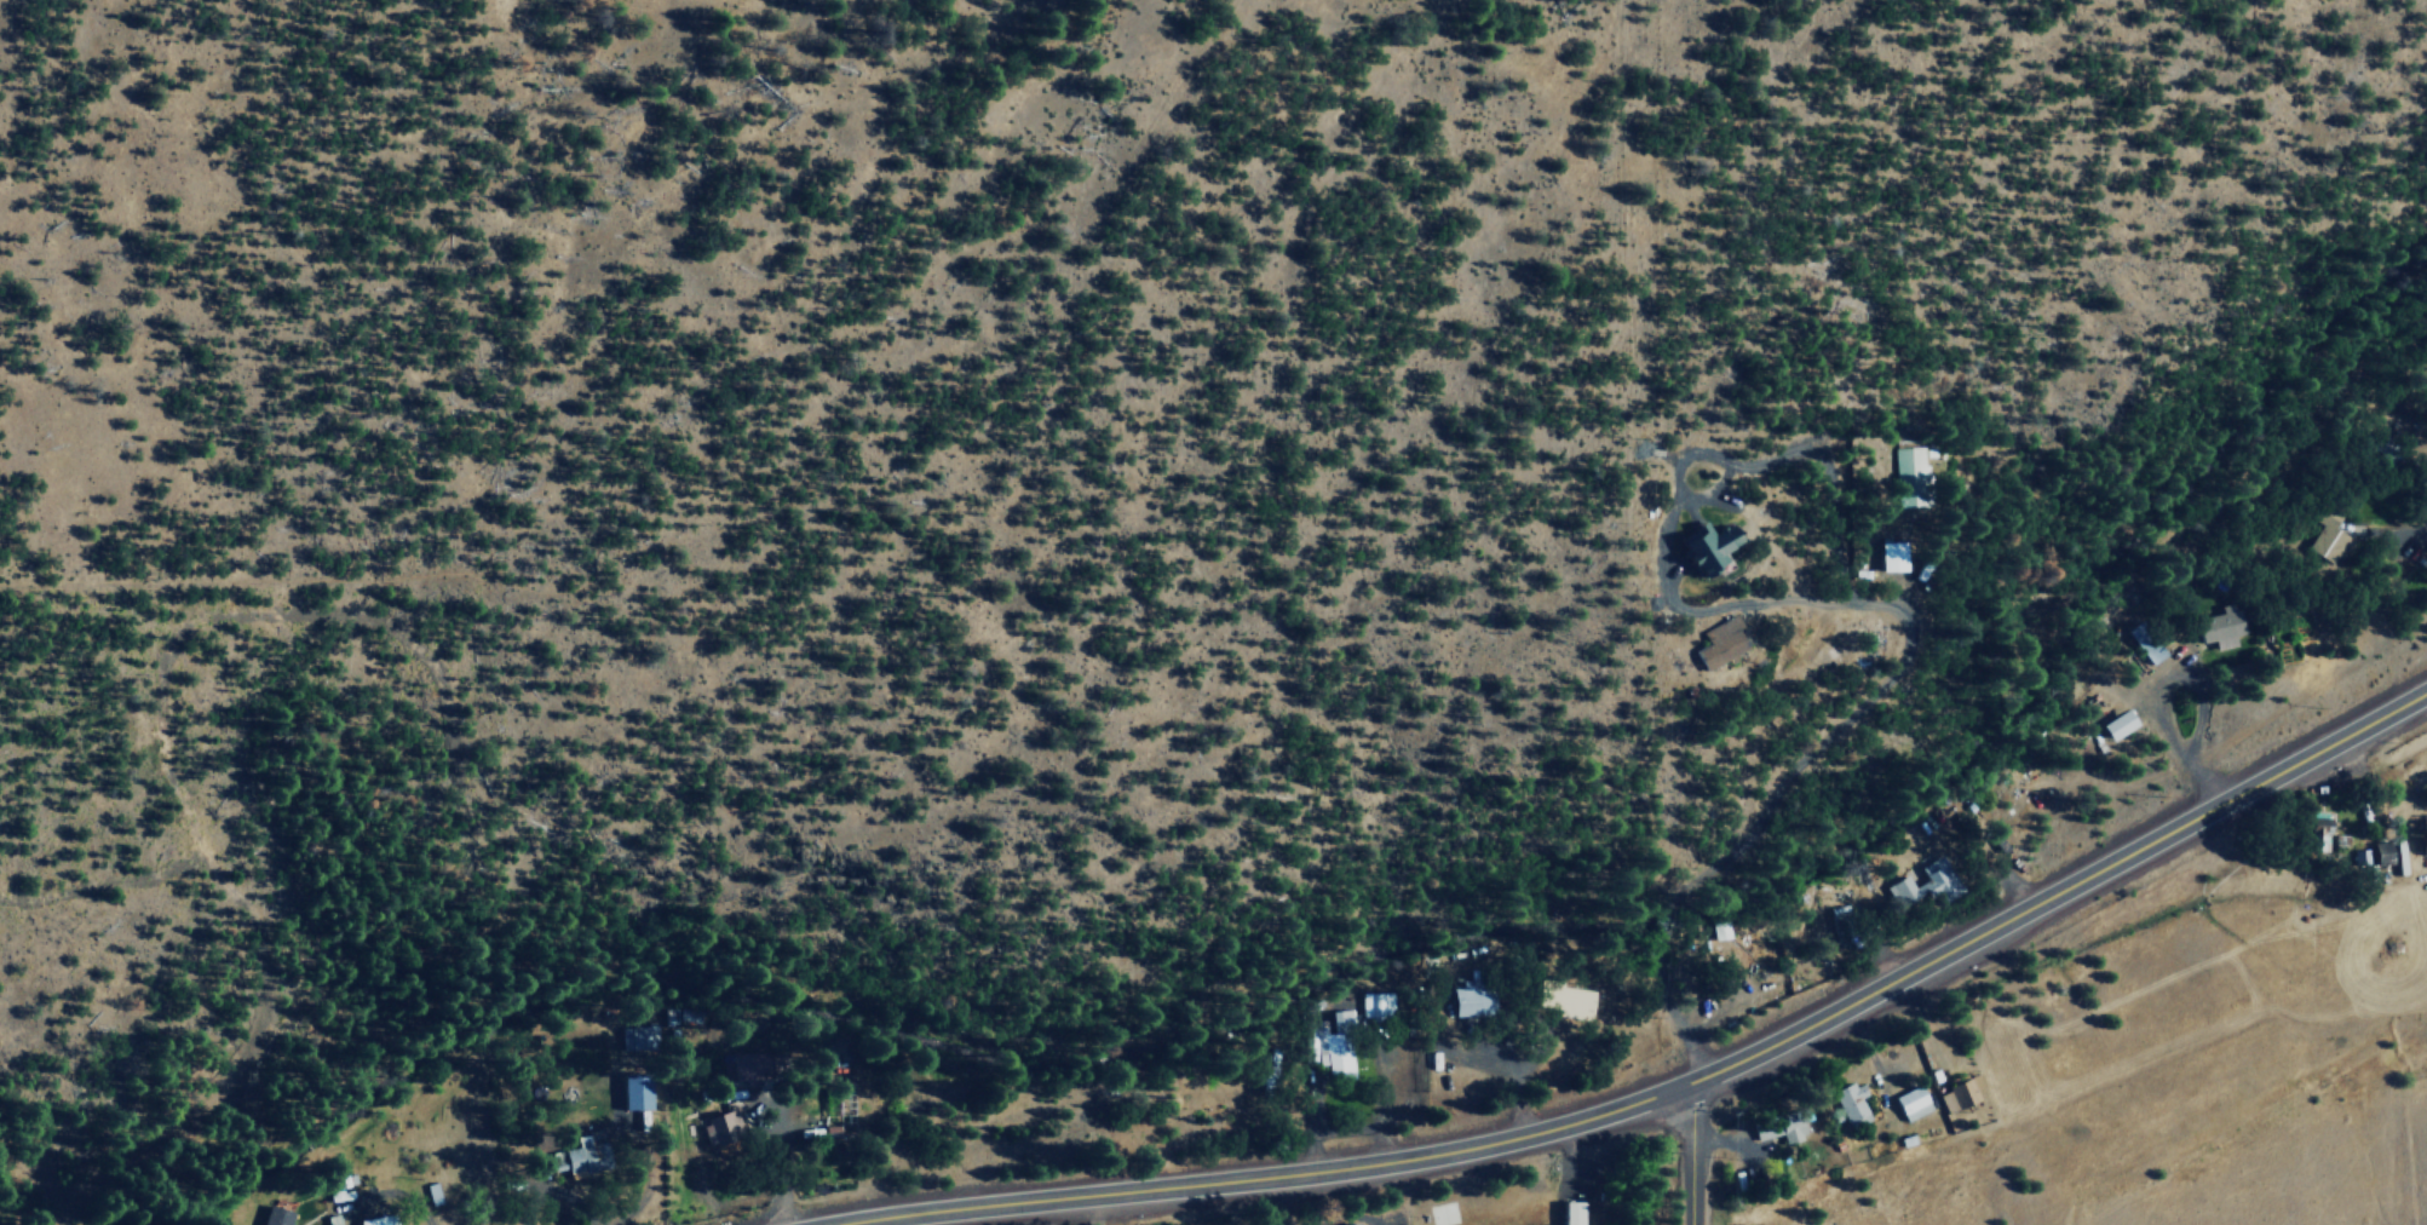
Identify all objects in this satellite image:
building: (2388, 449)
building: (1910, 472)
building: (2328, 535)
building: (1713, 546)
building: (1892, 554)
building: (2215, 627)
building: (1719, 640)
building: (2144, 642)
building: (2121, 725)
building: (2320, 827)
building: (2423, 833)
building: (2316, 834)
building: (2373, 855)
building: (1922, 882)
building: (1840, 922)
building: (1719, 928)
building: (1471, 997)
building: (1569, 1000)
building: (1376, 1003)
building: (638, 1037)
building: (1338, 1047)
building: (757, 1064)
road: (1672, 1088)
building: (638, 1091)
building: (1959, 1092)
building: (1911, 1102)
building: (1851, 1103)
building: (723, 1128)
building: (1781, 1128)
building: (587, 1155)
road: (1692, 1155)
building: (1571, 1210)
building: (277, 1215)
building: (380, 1219)
building: (1351, 1224)

